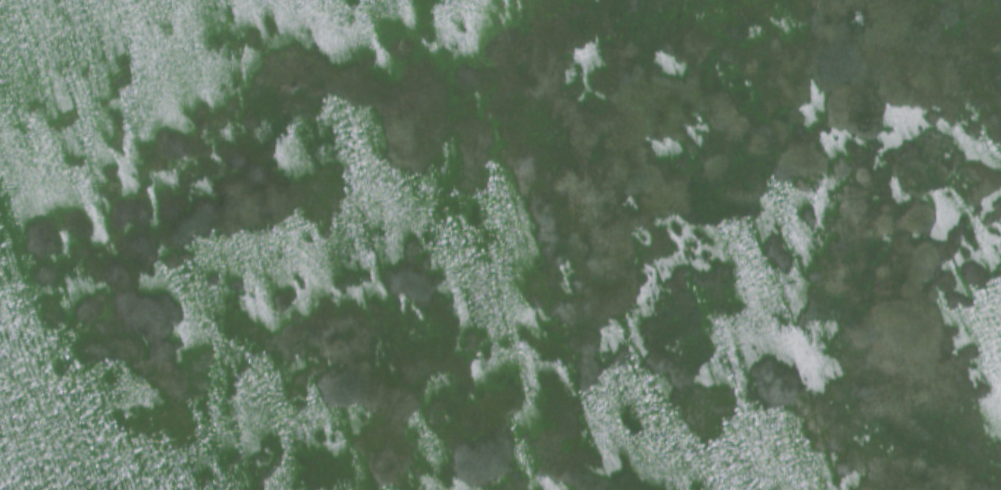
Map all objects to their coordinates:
wastewater plant: (500, 245)

